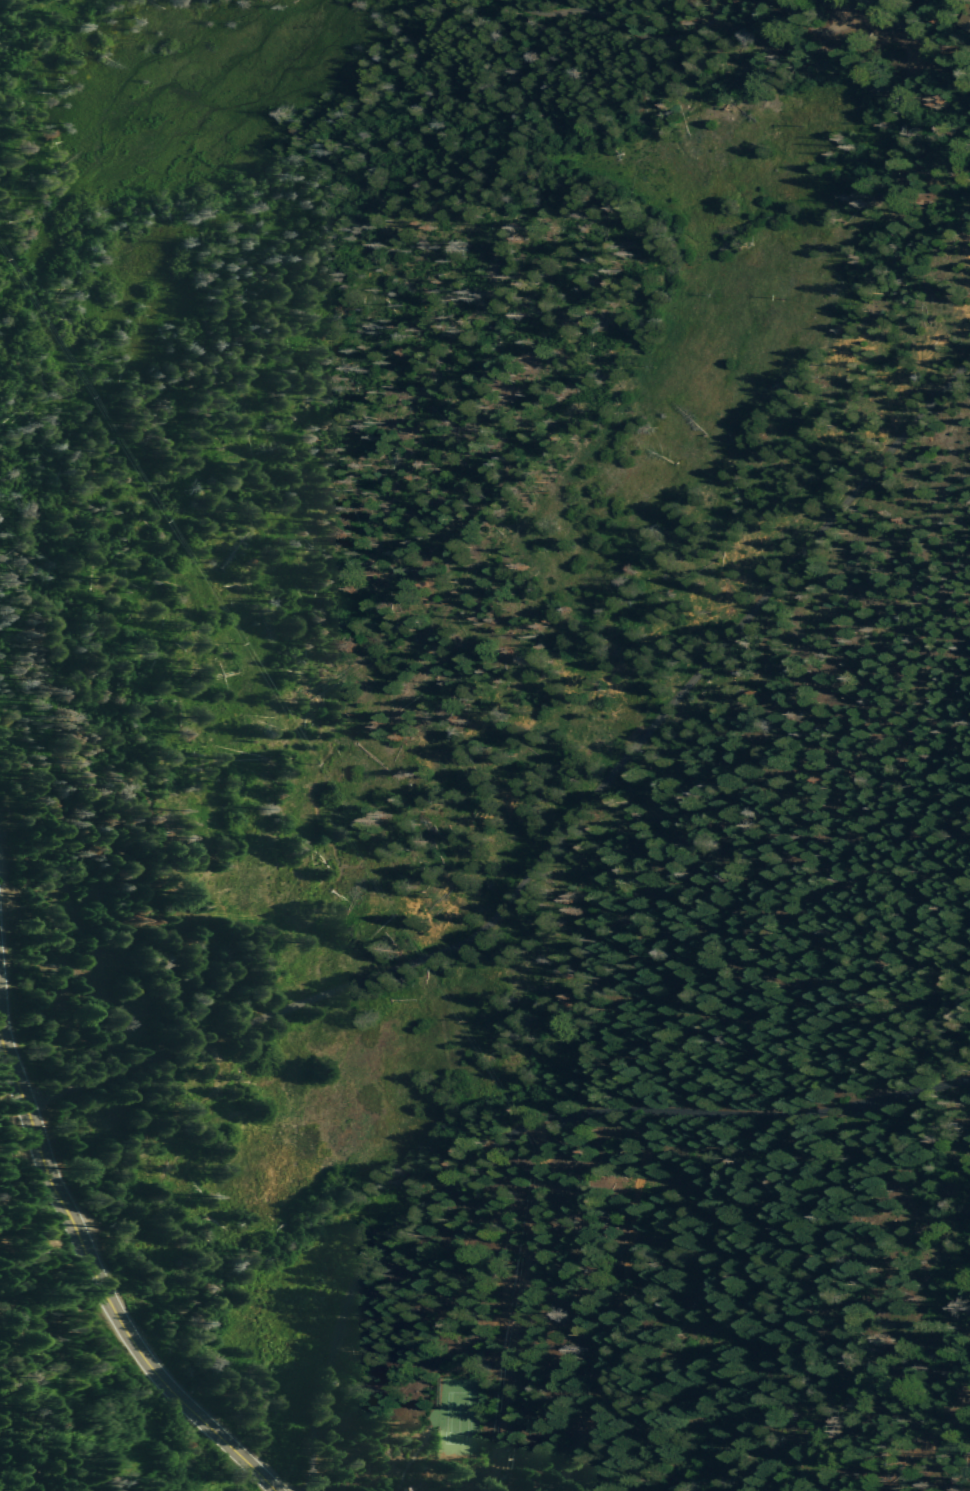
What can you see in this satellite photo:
road: (833, 10)
road: (618, 17)
road: (881, 46)
road: (942, 55)
road: (566, 823)
road: (523, 1124)
road: (96, 1266)
park: (457, 1417)
road: (107, 1422)
building: (402, 1488)
building: (407, 1489)
building: (426, 1489)
building: (418, 1490)

